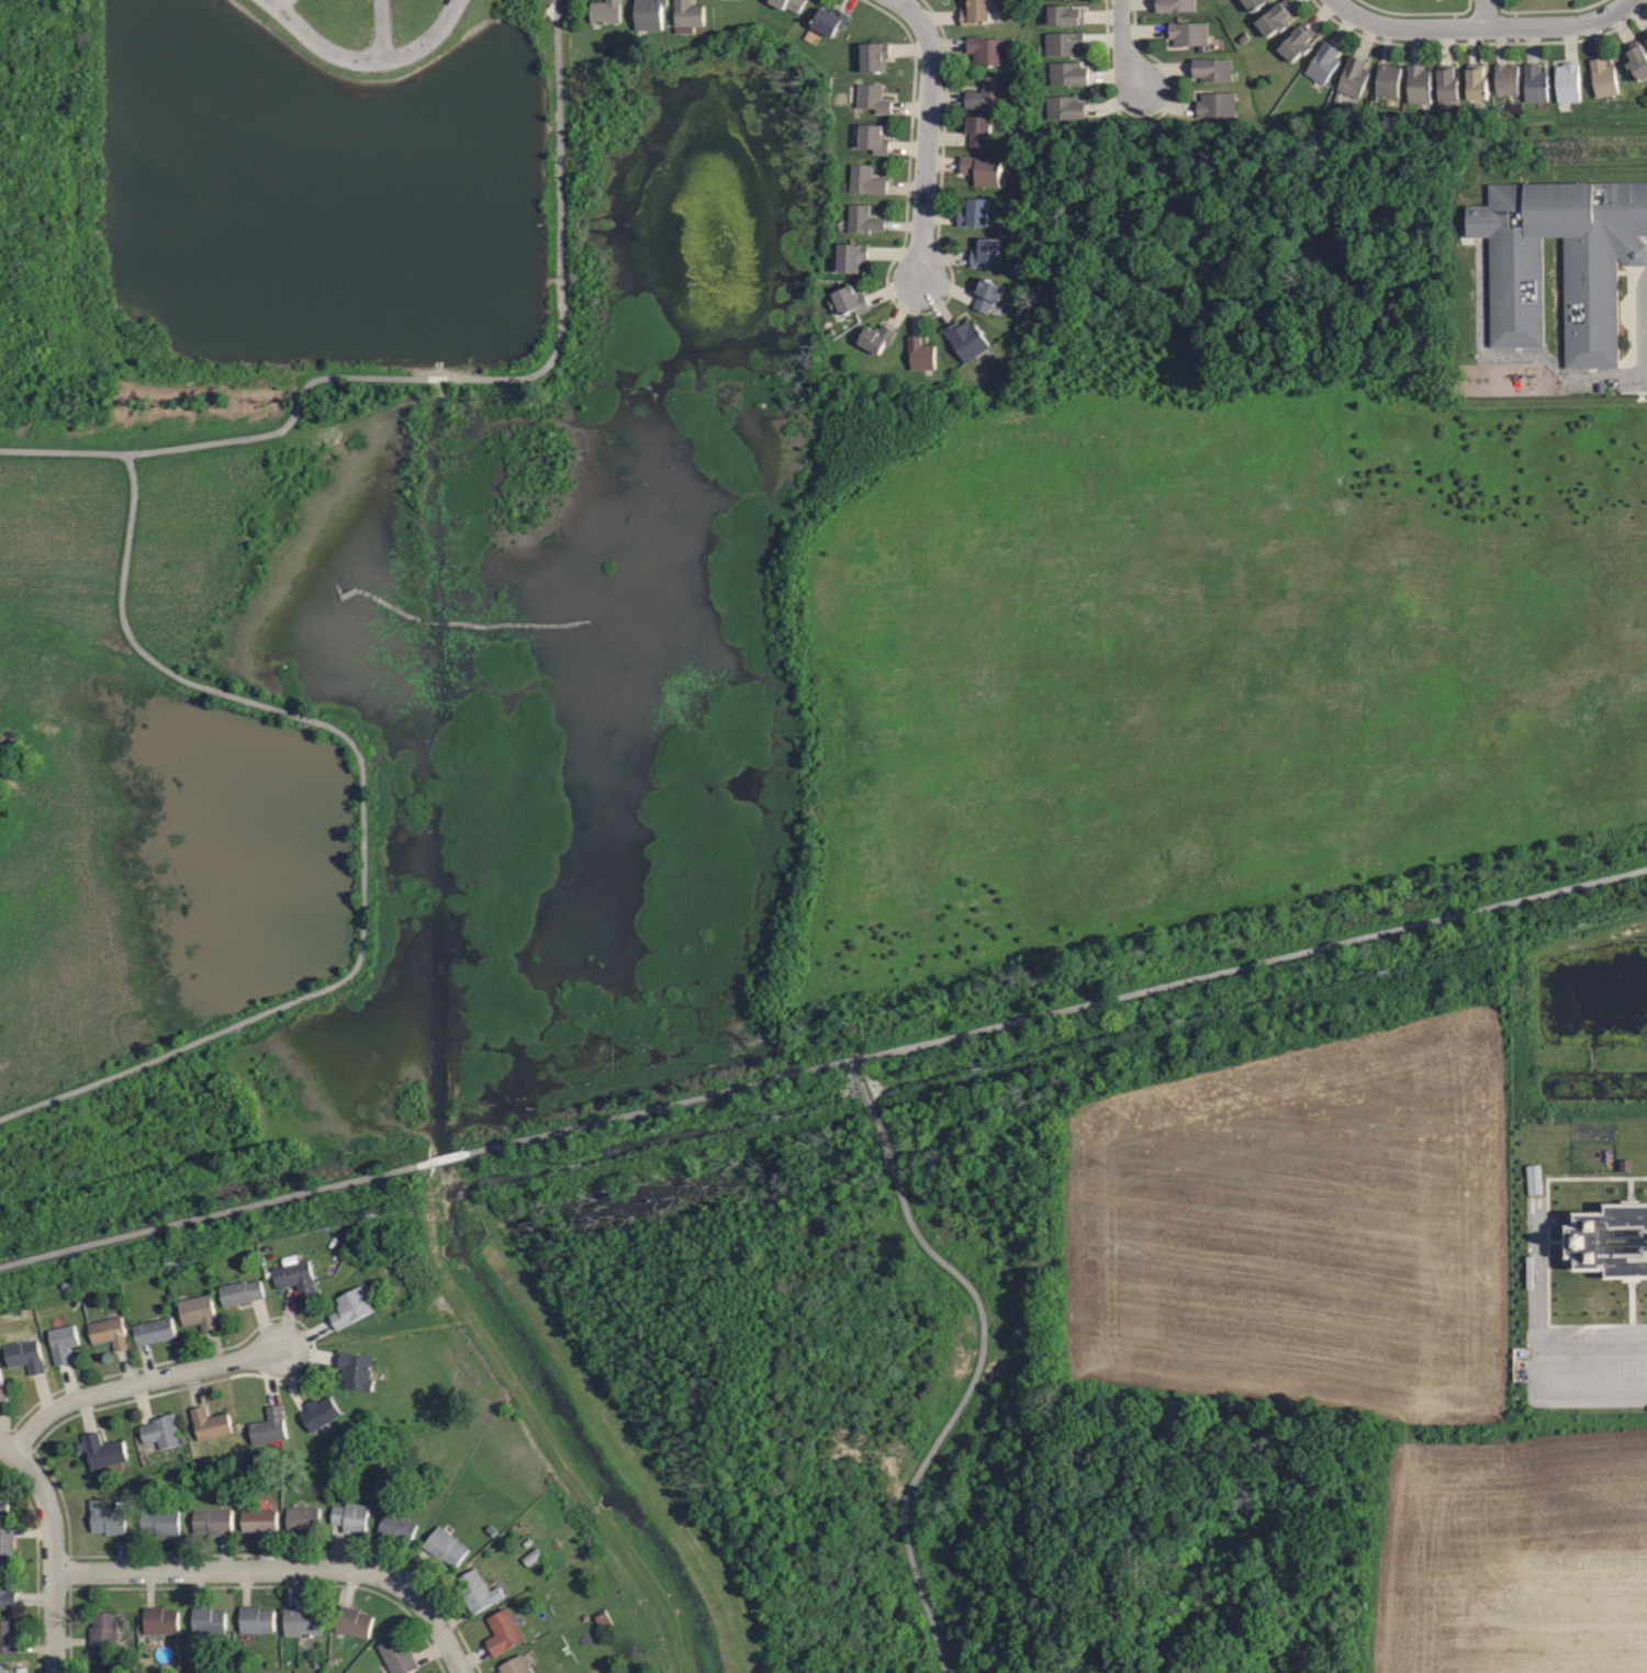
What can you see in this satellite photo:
building: (725, 0)
building: (788, 4)
building: (1255, 4)
building: (1175, 7)
building: (606, 12)
building: (690, 12)
building: (975, 12)
road: (1484, 13)
building: (650, 15)
building: (1065, 15)
building: (1275, 19)
building: (829, 22)
road: (1482, 26)
road: (380, 30)
building: (1189, 32)
building: (1646, 38)
building: (1064, 43)
building: (1297, 43)
building: (986, 49)
road: (1122, 53)
building: (873, 57)
road: (365, 59)
building: (1636, 59)
building: (1322, 63)
building: (1211, 70)
building: (1066, 71)
building: (1353, 76)
building: (1601, 77)
building: (1388, 79)
building: (1505, 80)
building: (1476, 82)
building: (1534, 82)
building: (1567, 82)
building: (1419, 85)
building: (1447, 87)
building: (986, 93)
building: (872, 98)
building: (1215, 104)
building: (1063, 106)
building: (977, 130)
road: (937, 134)
building: (874, 138)
building: (982, 171)
building: (866, 181)
building: (973, 213)
building: (863, 220)
building: (987, 251)
building: (852, 257)
building: (985, 294)
building: (847, 301)
building: (1593, 302)
road: (1646, 328)
building: (875, 337)
building: (967, 338)
road: (1520, 353)
building: (920, 355)
road: (444, 378)
road: (1646, 380)
road: (365, 832)
building: (1537, 1180)
crop: (1304, 1223)
building: (1611, 1240)
building: (293, 1277)
building: (239, 1290)
building: (349, 1307)
building: (199, 1311)
building: (150, 1330)
building: (108, 1332)
building: (66, 1341)
building: (29, 1354)
road: (978, 1365)
road: (1540, 1369)
building: (355, 1370)
road: (135, 1383)
building: (3, 1388)
building: (318, 1412)
building: (208, 1422)
building: (268, 1424)
building: (159, 1430)
building: (100, 1449)
building: (108, 1517)
building: (350, 1517)
building: (302, 1518)
building: (261, 1519)
building: (159, 1520)
building: (213, 1520)
building: (394, 1529)
building: (7, 1545)
building: (442, 1547)
road: (52, 1550)
crop: (1515, 1554)
road: (209, 1570)
building: (477, 1591)
building: (7, 1592)
road: (426, 1608)
building: (159, 1619)
building: (206, 1619)
building: (256, 1619)
building: (303, 1620)
building: (352, 1620)
building: (102, 1629)
building: (503, 1631)
building: (7, 1637)
building: (396, 1654)
building: (515, 1665)
building: (1, 1670)
building: (102, 1671)

